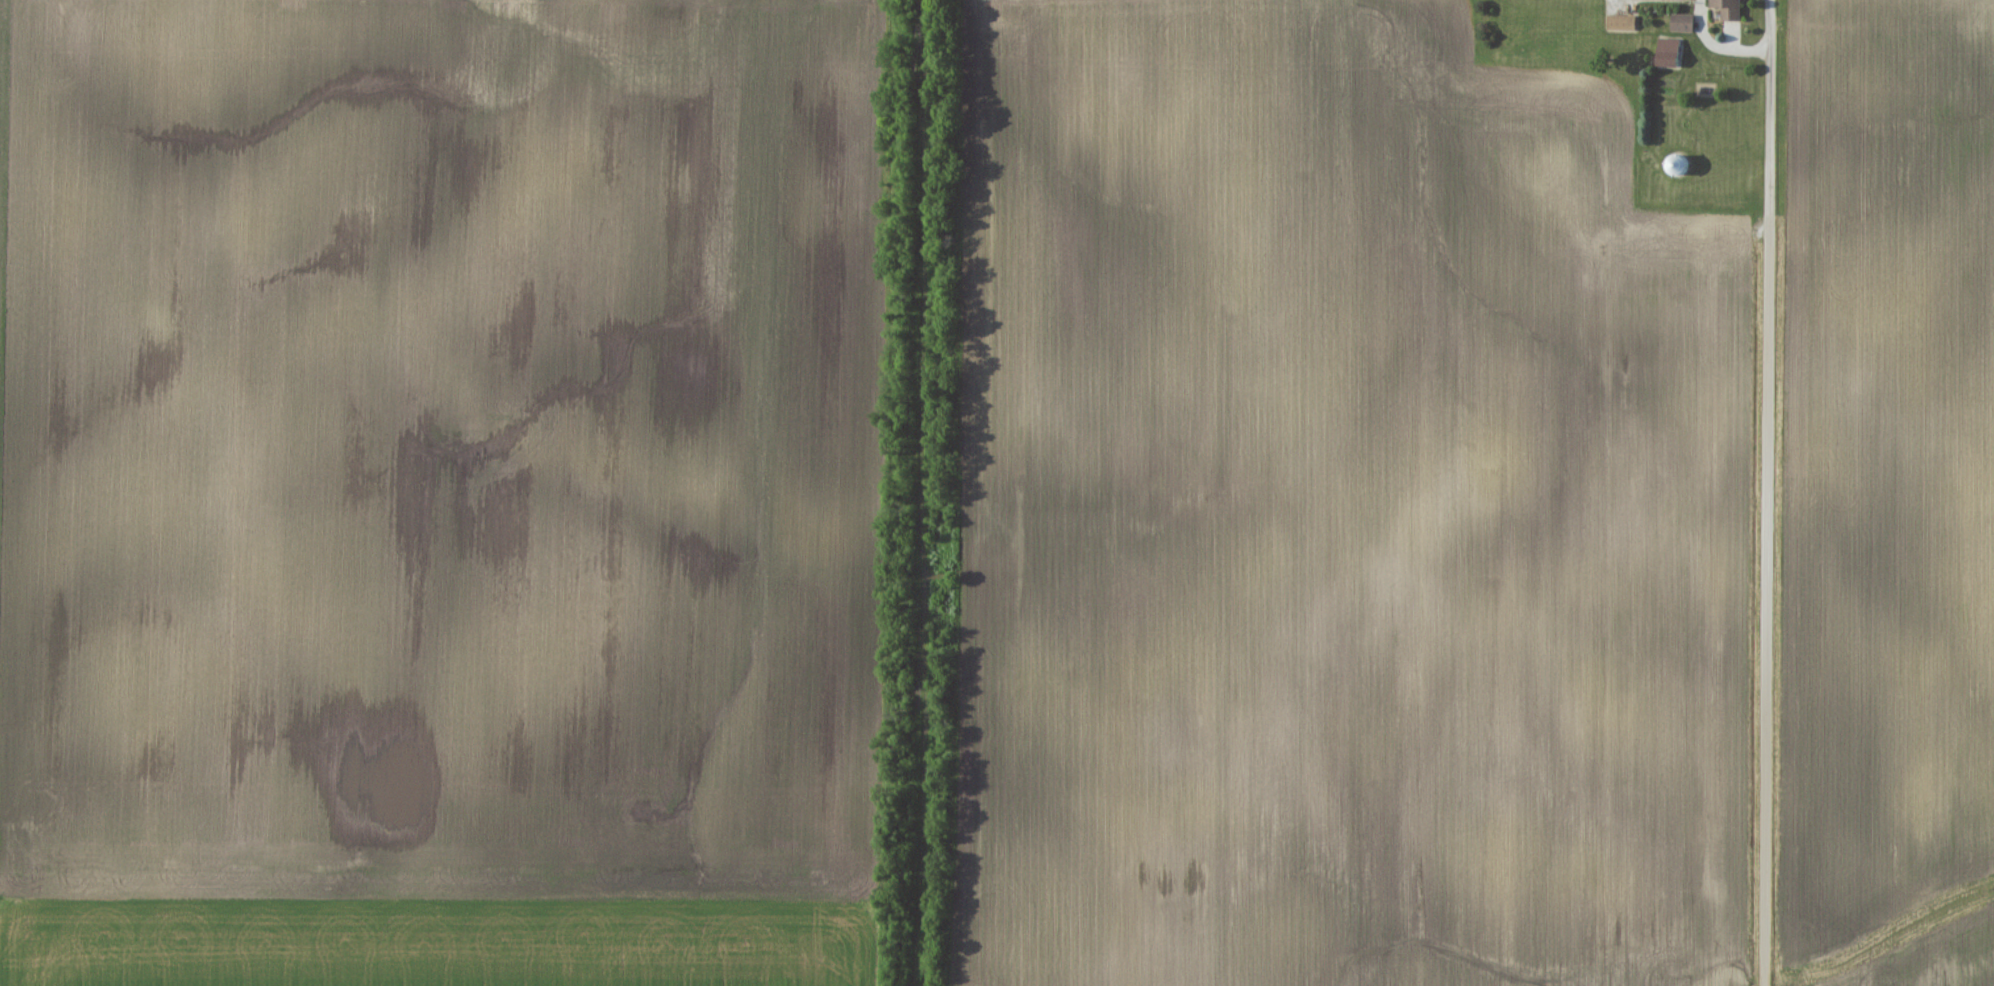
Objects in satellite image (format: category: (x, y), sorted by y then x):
road: (1770, 493)

